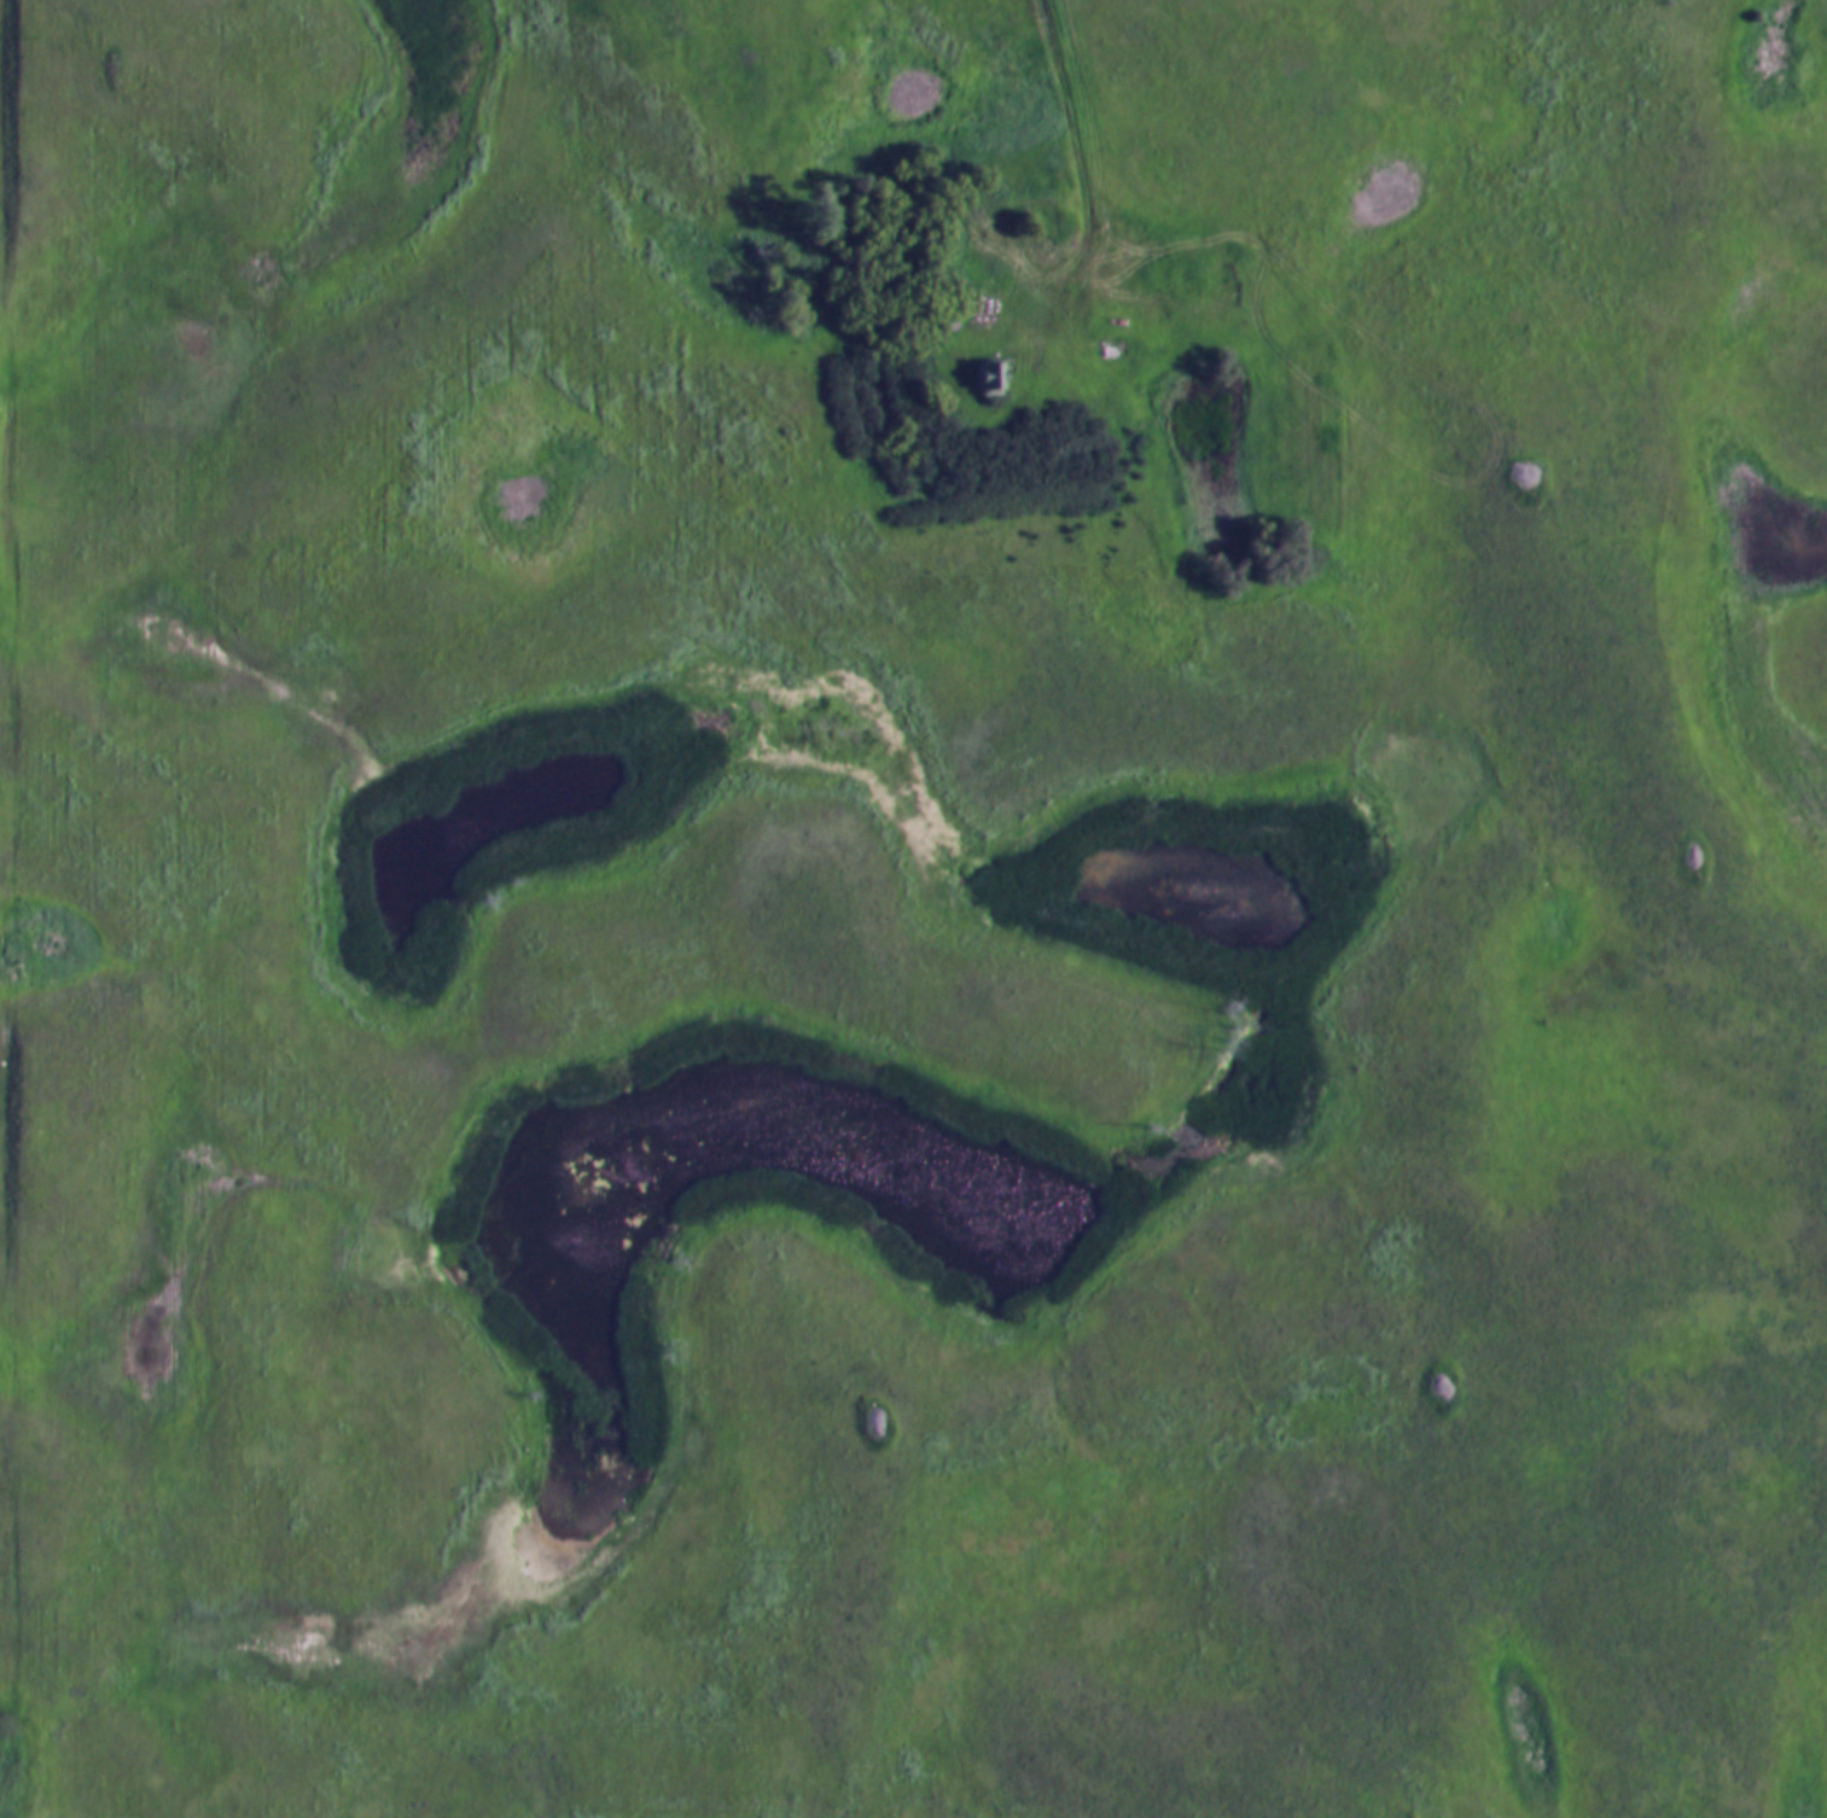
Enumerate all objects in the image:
road: (1078, 142)
building: (991, 380)

